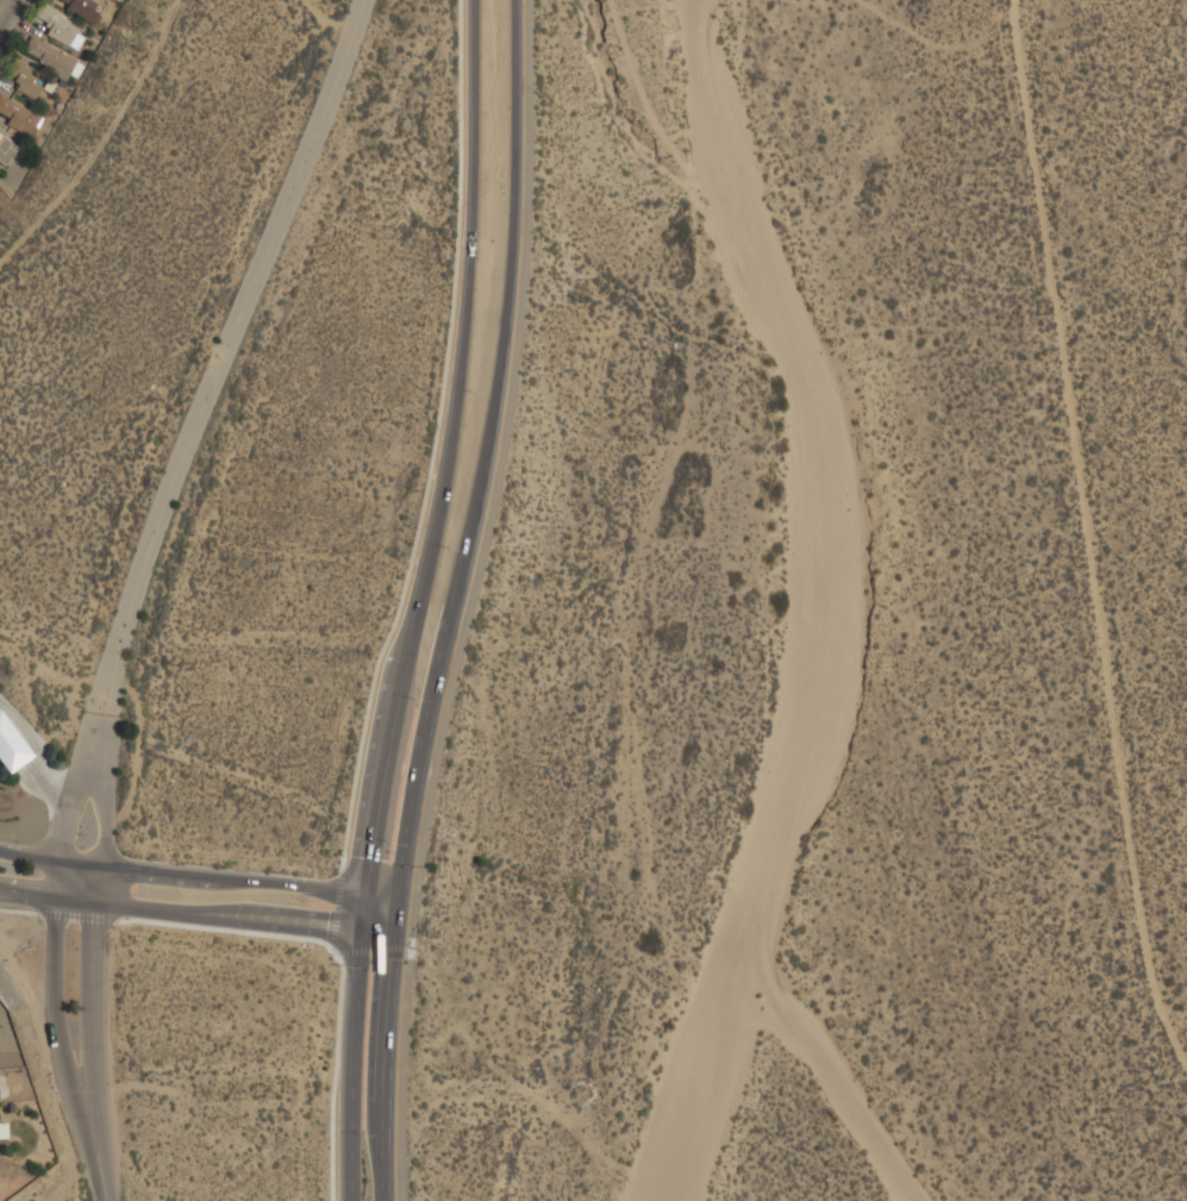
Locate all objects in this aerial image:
building: (82, 8)
road: (7, 13)
building: (61, 27)
building: (49, 57)
building: (27, 82)
building: (17, 115)
building: (6, 148)
road: (211, 379)
road: (436, 439)
road: (413, 600)
road: (452, 600)
river: (816, 603)
building: (11, 746)
road: (67, 812)
road: (100, 815)
road: (196, 876)
traffic signals: (367, 893)
traffic signals: (394, 896)
road: (336, 907)
road: (195, 908)
traffic signals: (364, 918)
traffic signals: (392, 921)
road: (321, 934)
road: (370, 943)
road: (50, 981)
road: (93, 981)
building: (4, 1130)
road: (93, 1147)
building: (0, 1163)

